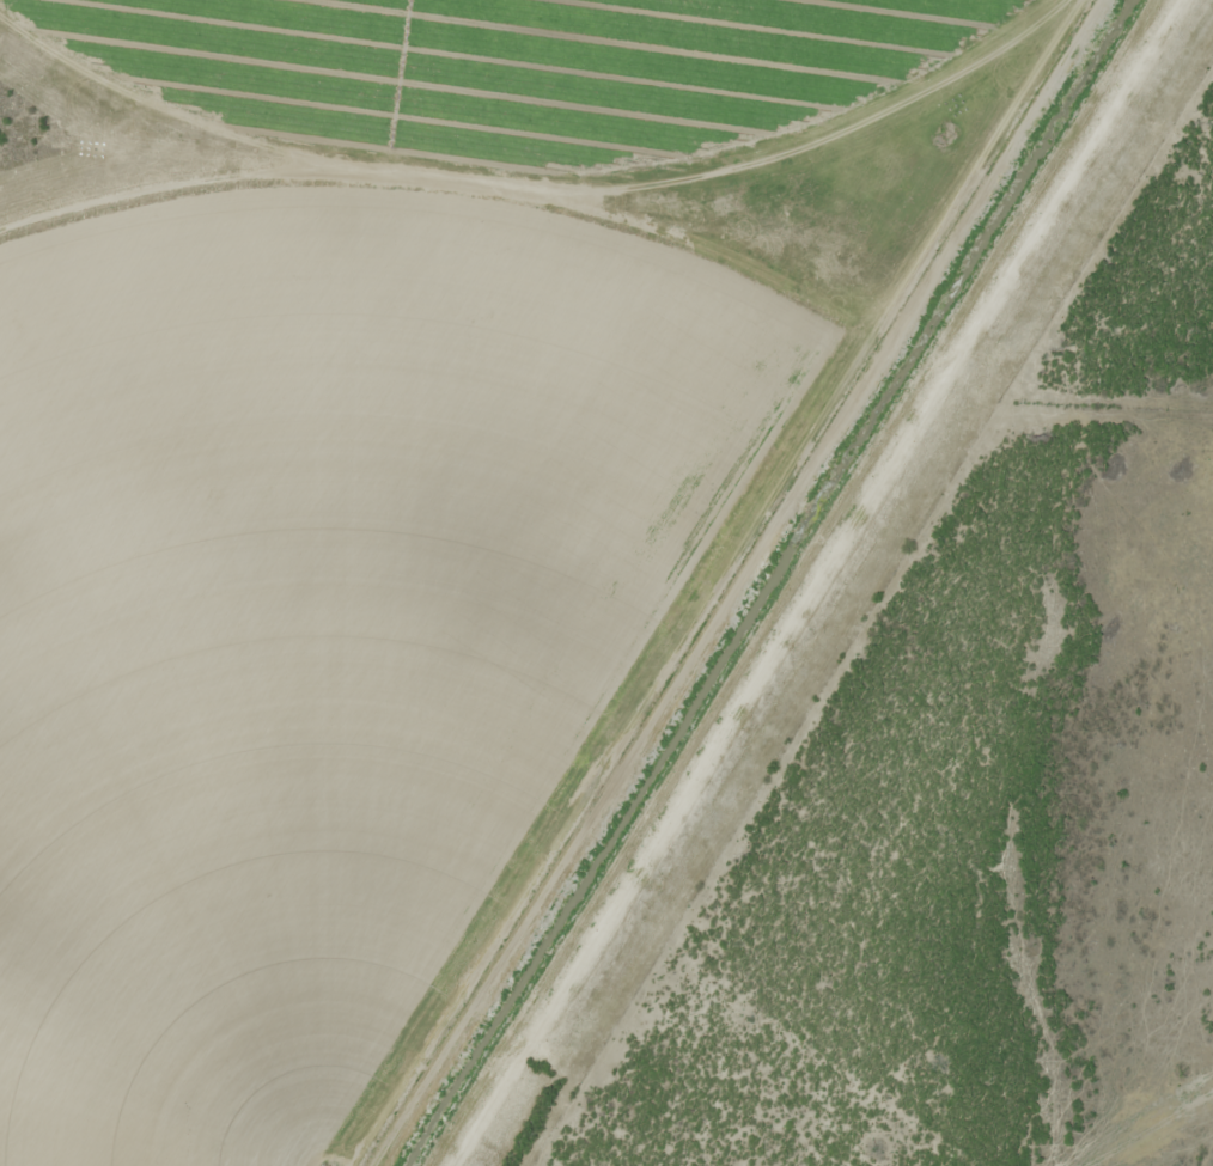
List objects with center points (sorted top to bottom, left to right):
road: (718, 586)

